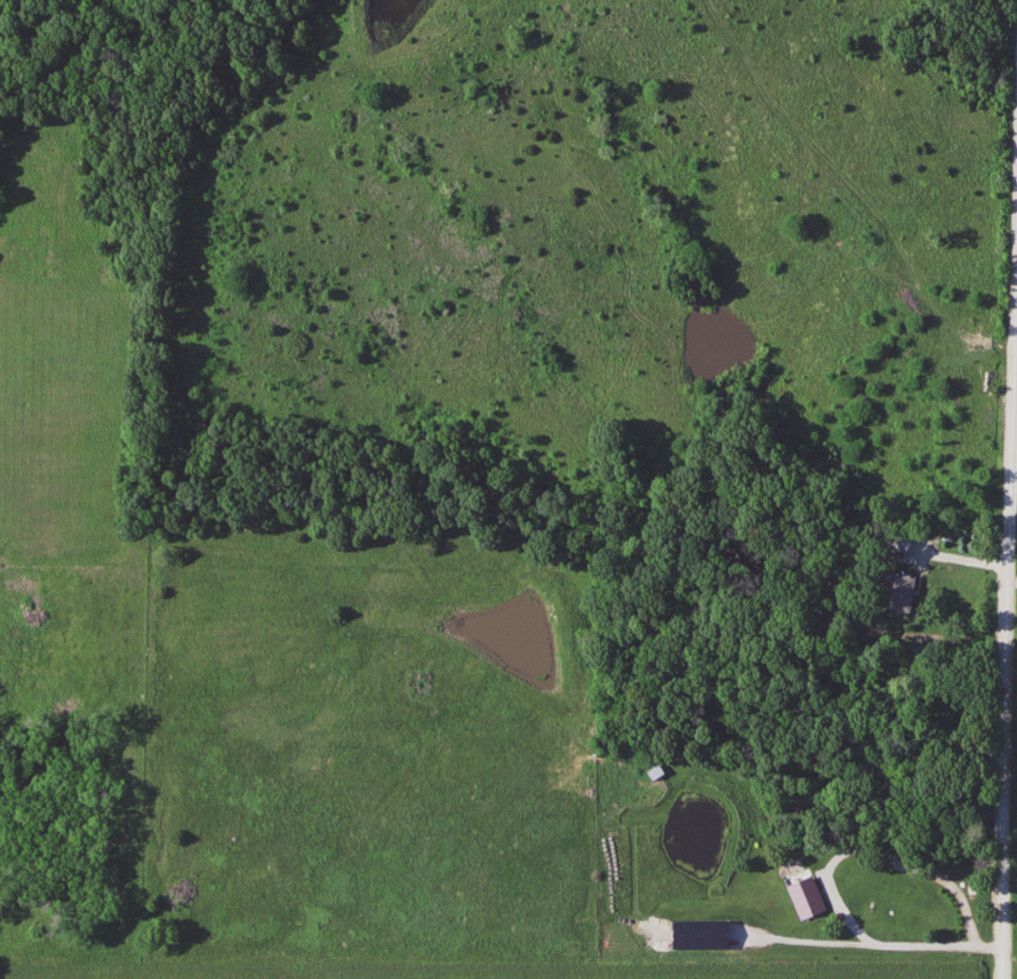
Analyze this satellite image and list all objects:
road: (1013, 345)
road: (959, 559)
road: (1008, 566)
road: (1012, 583)
building: (905, 594)
building: (655, 771)
building: (855, 854)
road: (944, 883)
road: (832, 895)

